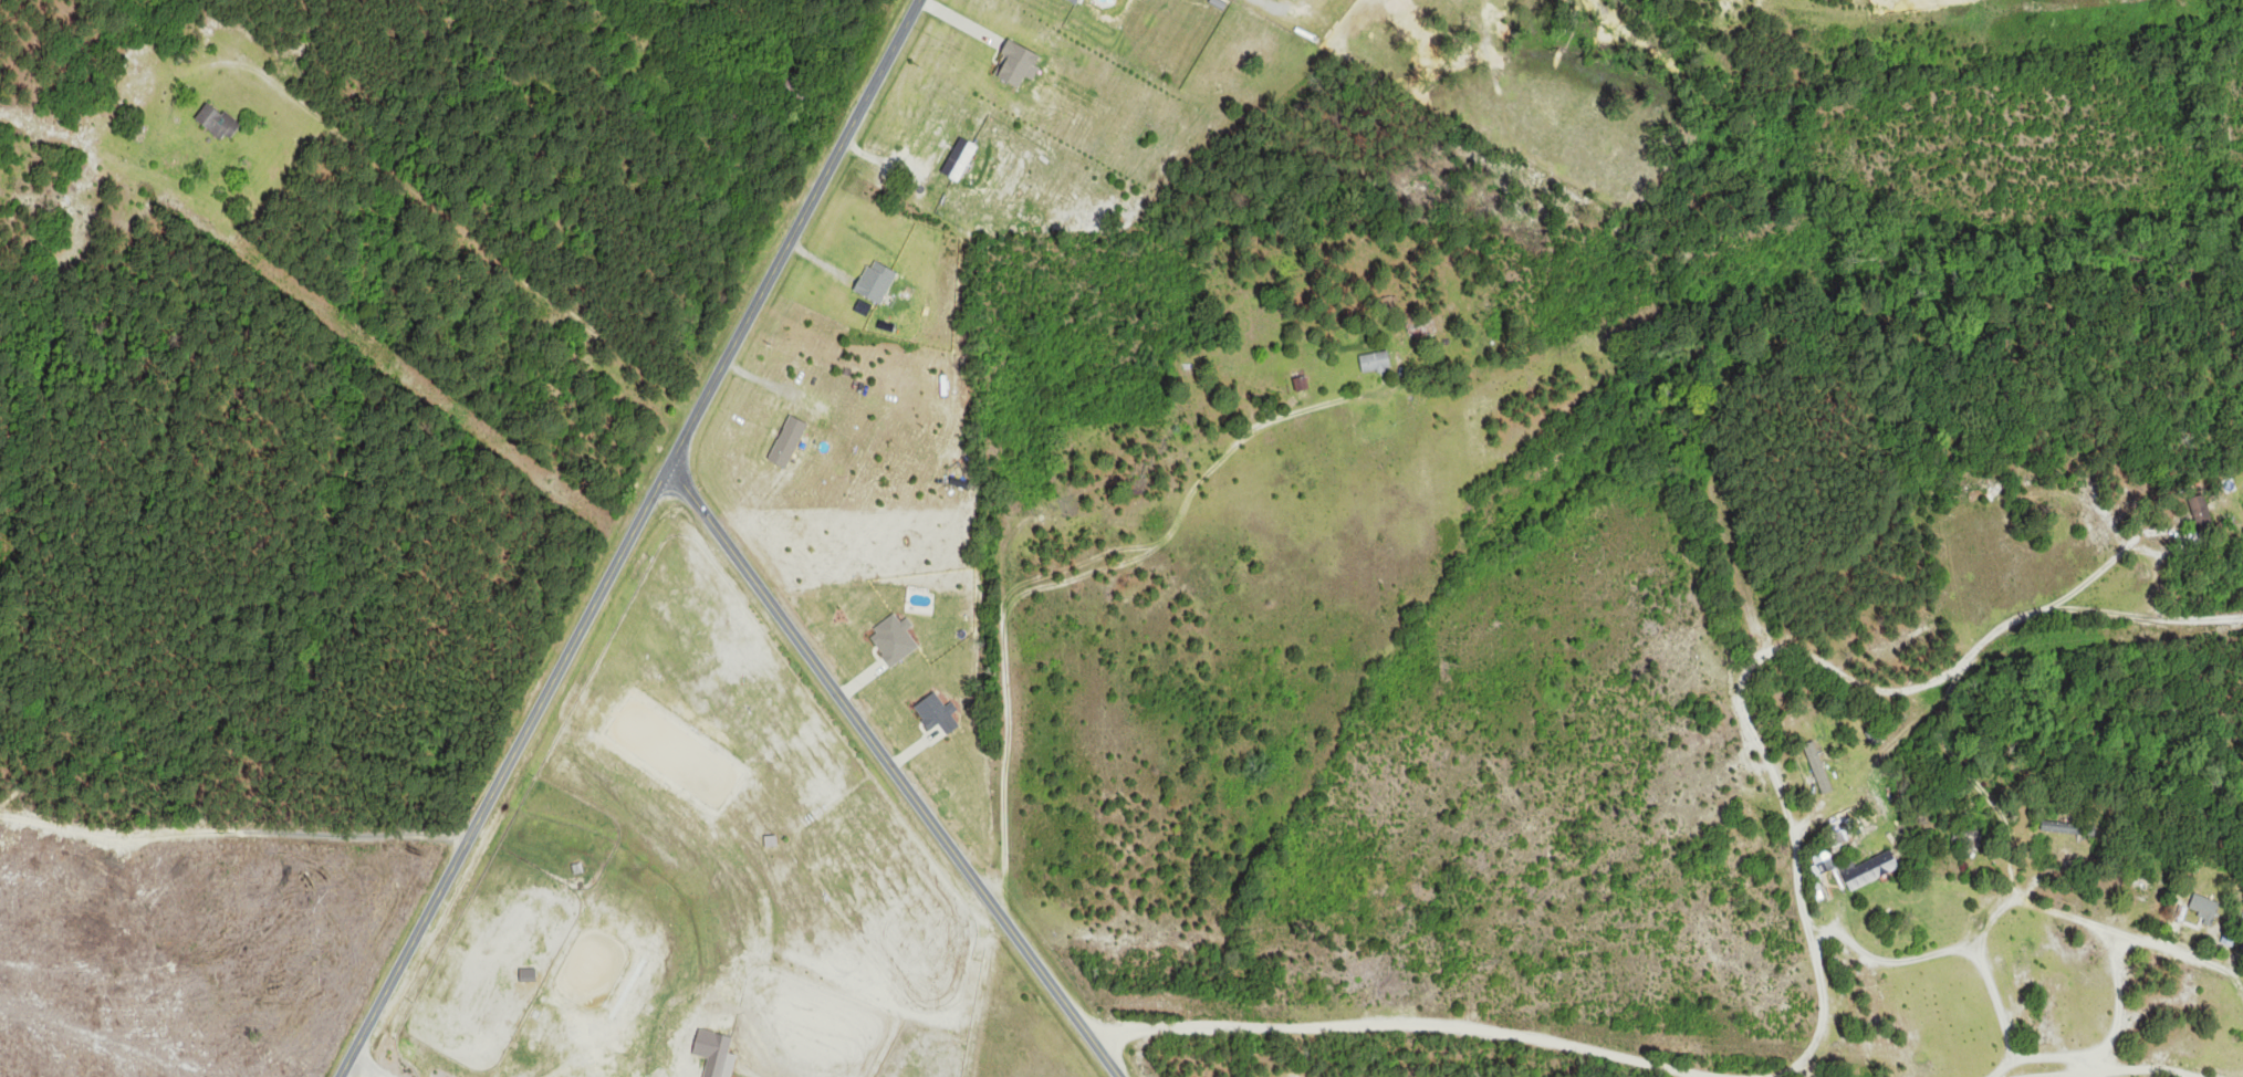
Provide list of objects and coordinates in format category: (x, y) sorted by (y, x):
building: (1073, 0)
road: (1266, 10)
building: (1016, 62)
building: (216, 119)
building: (957, 157)
building: (874, 280)
building: (1419, 330)
building: (1373, 359)
building: (1298, 381)
building: (785, 440)
building: (2199, 509)
road: (1019, 521)
road: (633, 538)
road: (2146, 611)
building: (893, 638)
road: (1741, 705)
building: (933, 712)
building: (1817, 766)
road: (895, 774)
road: (1969, 775)
building: (2055, 825)
road: (236, 832)
building: (1823, 860)
building: (1869, 868)
building: (2203, 906)
road: (2074, 917)
road: (2171, 951)
road: (2125, 955)
road: (1887, 958)
building: (525, 973)
road: (1412, 1025)
building: (713, 1053)
road: (2002, 1067)
road: (2110, 1067)
road: (366, 1068)
road: (1794, 1076)

